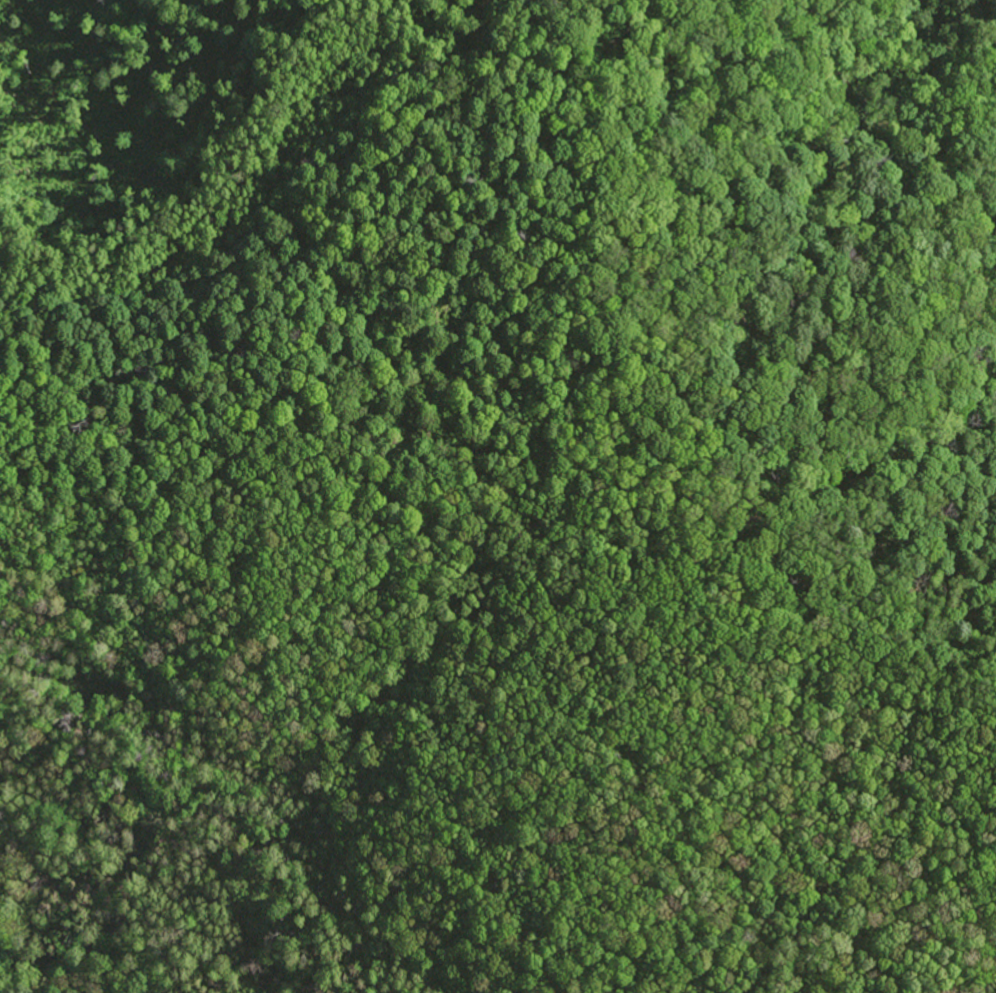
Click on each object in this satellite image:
road: (916, 36)
road: (873, 145)

